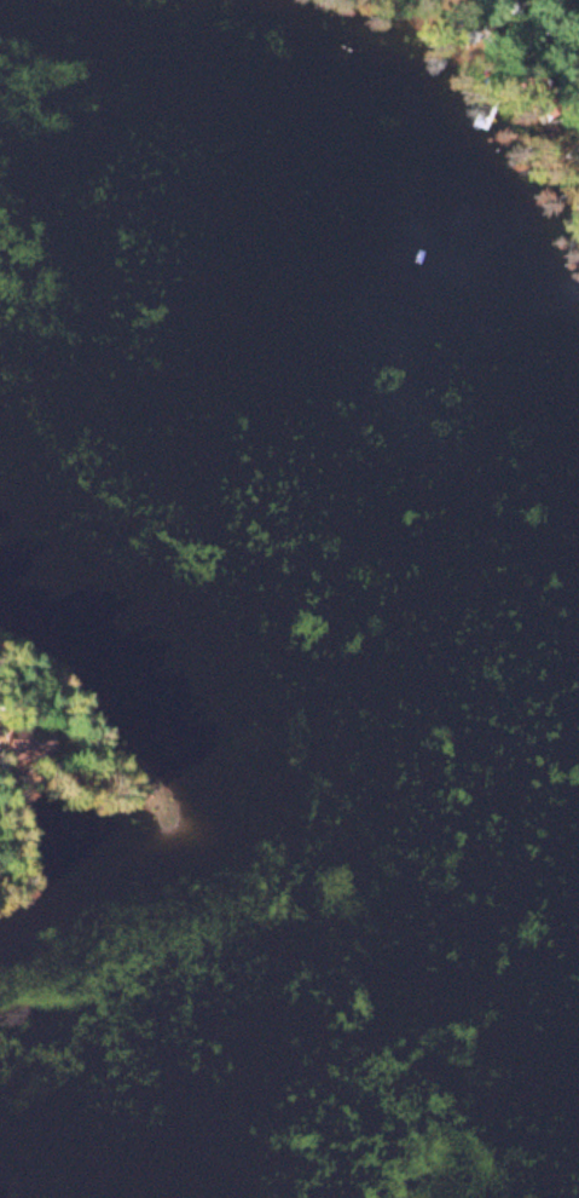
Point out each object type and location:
building: (28, 739)

